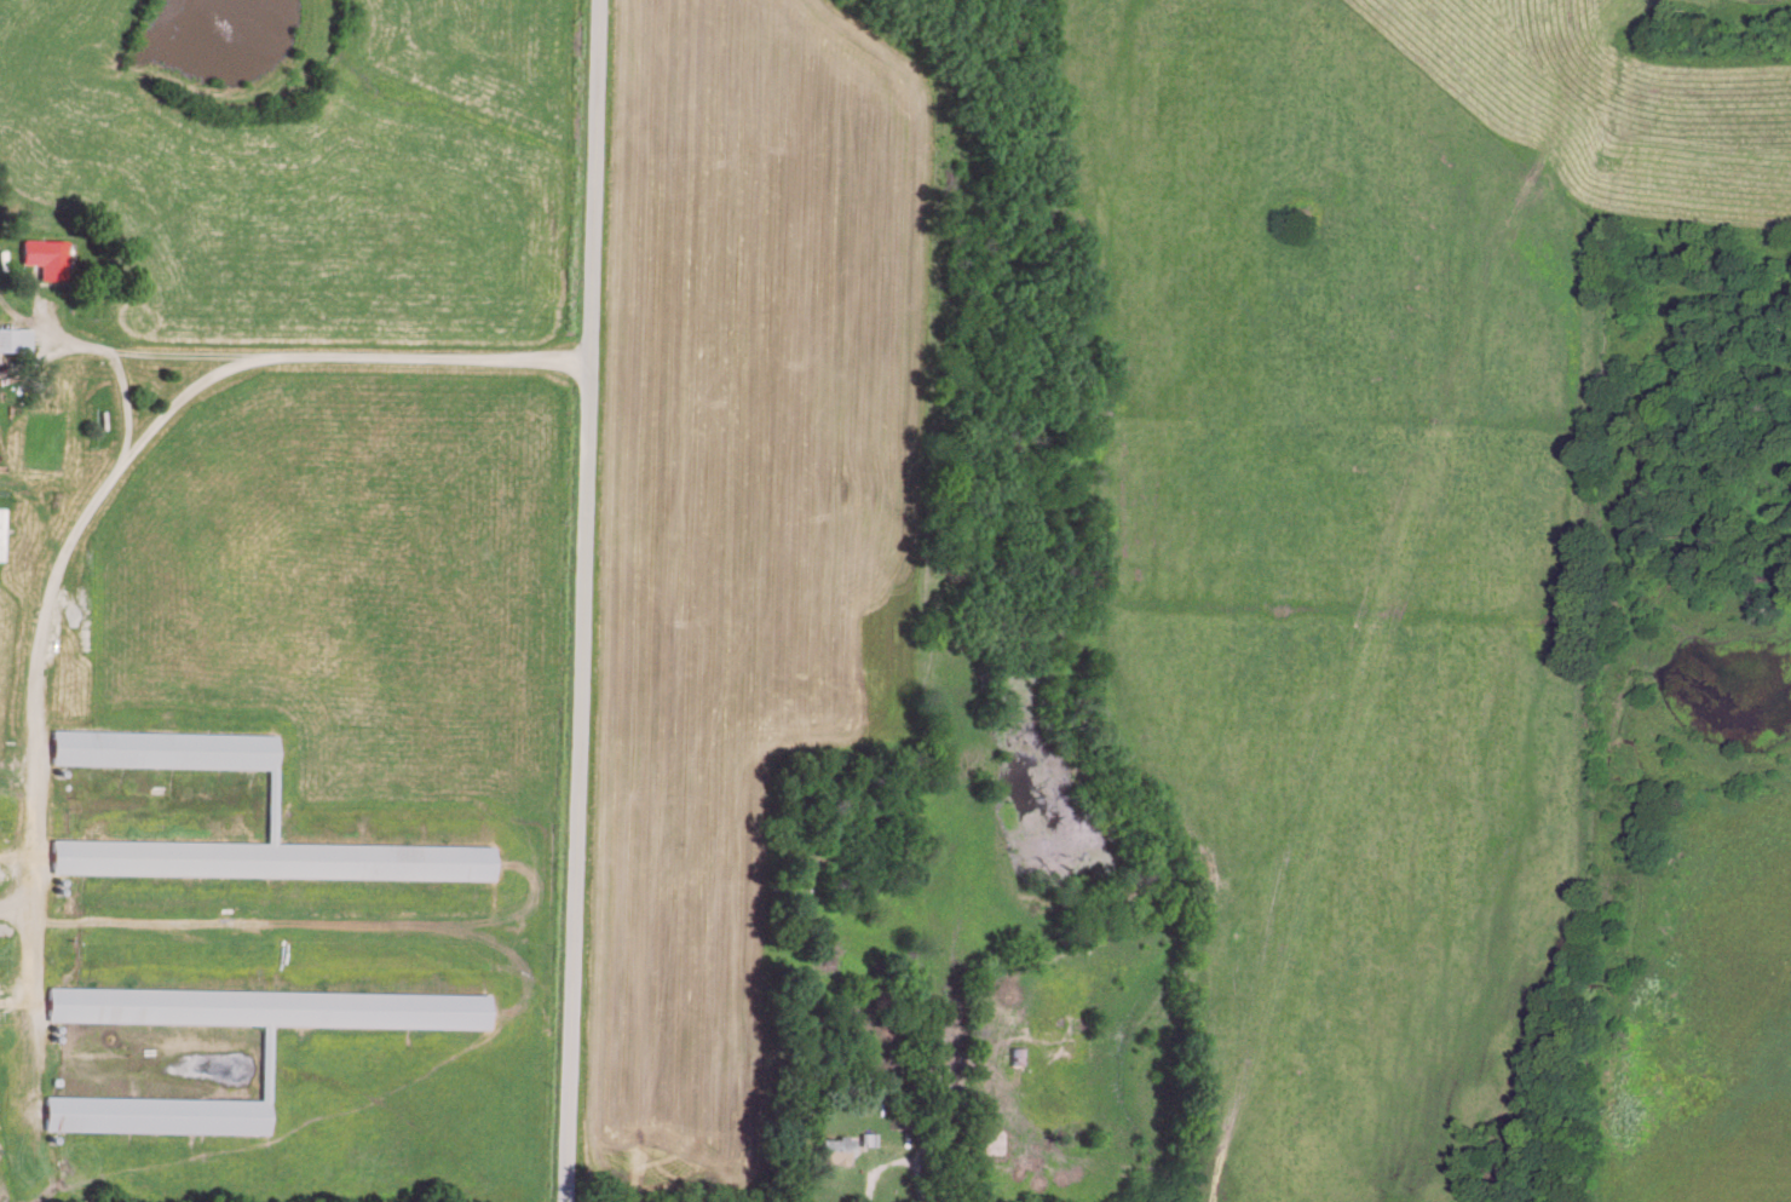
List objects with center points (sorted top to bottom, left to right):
building: (50, 254)
building: (16, 335)
road: (171, 356)
road: (116, 370)
road: (70, 545)
road: (575, 600)
building: (168, 746)
building: (276, 856)
building: (272, 1005)
building: (162, 1111)
building: (828, 1148)

